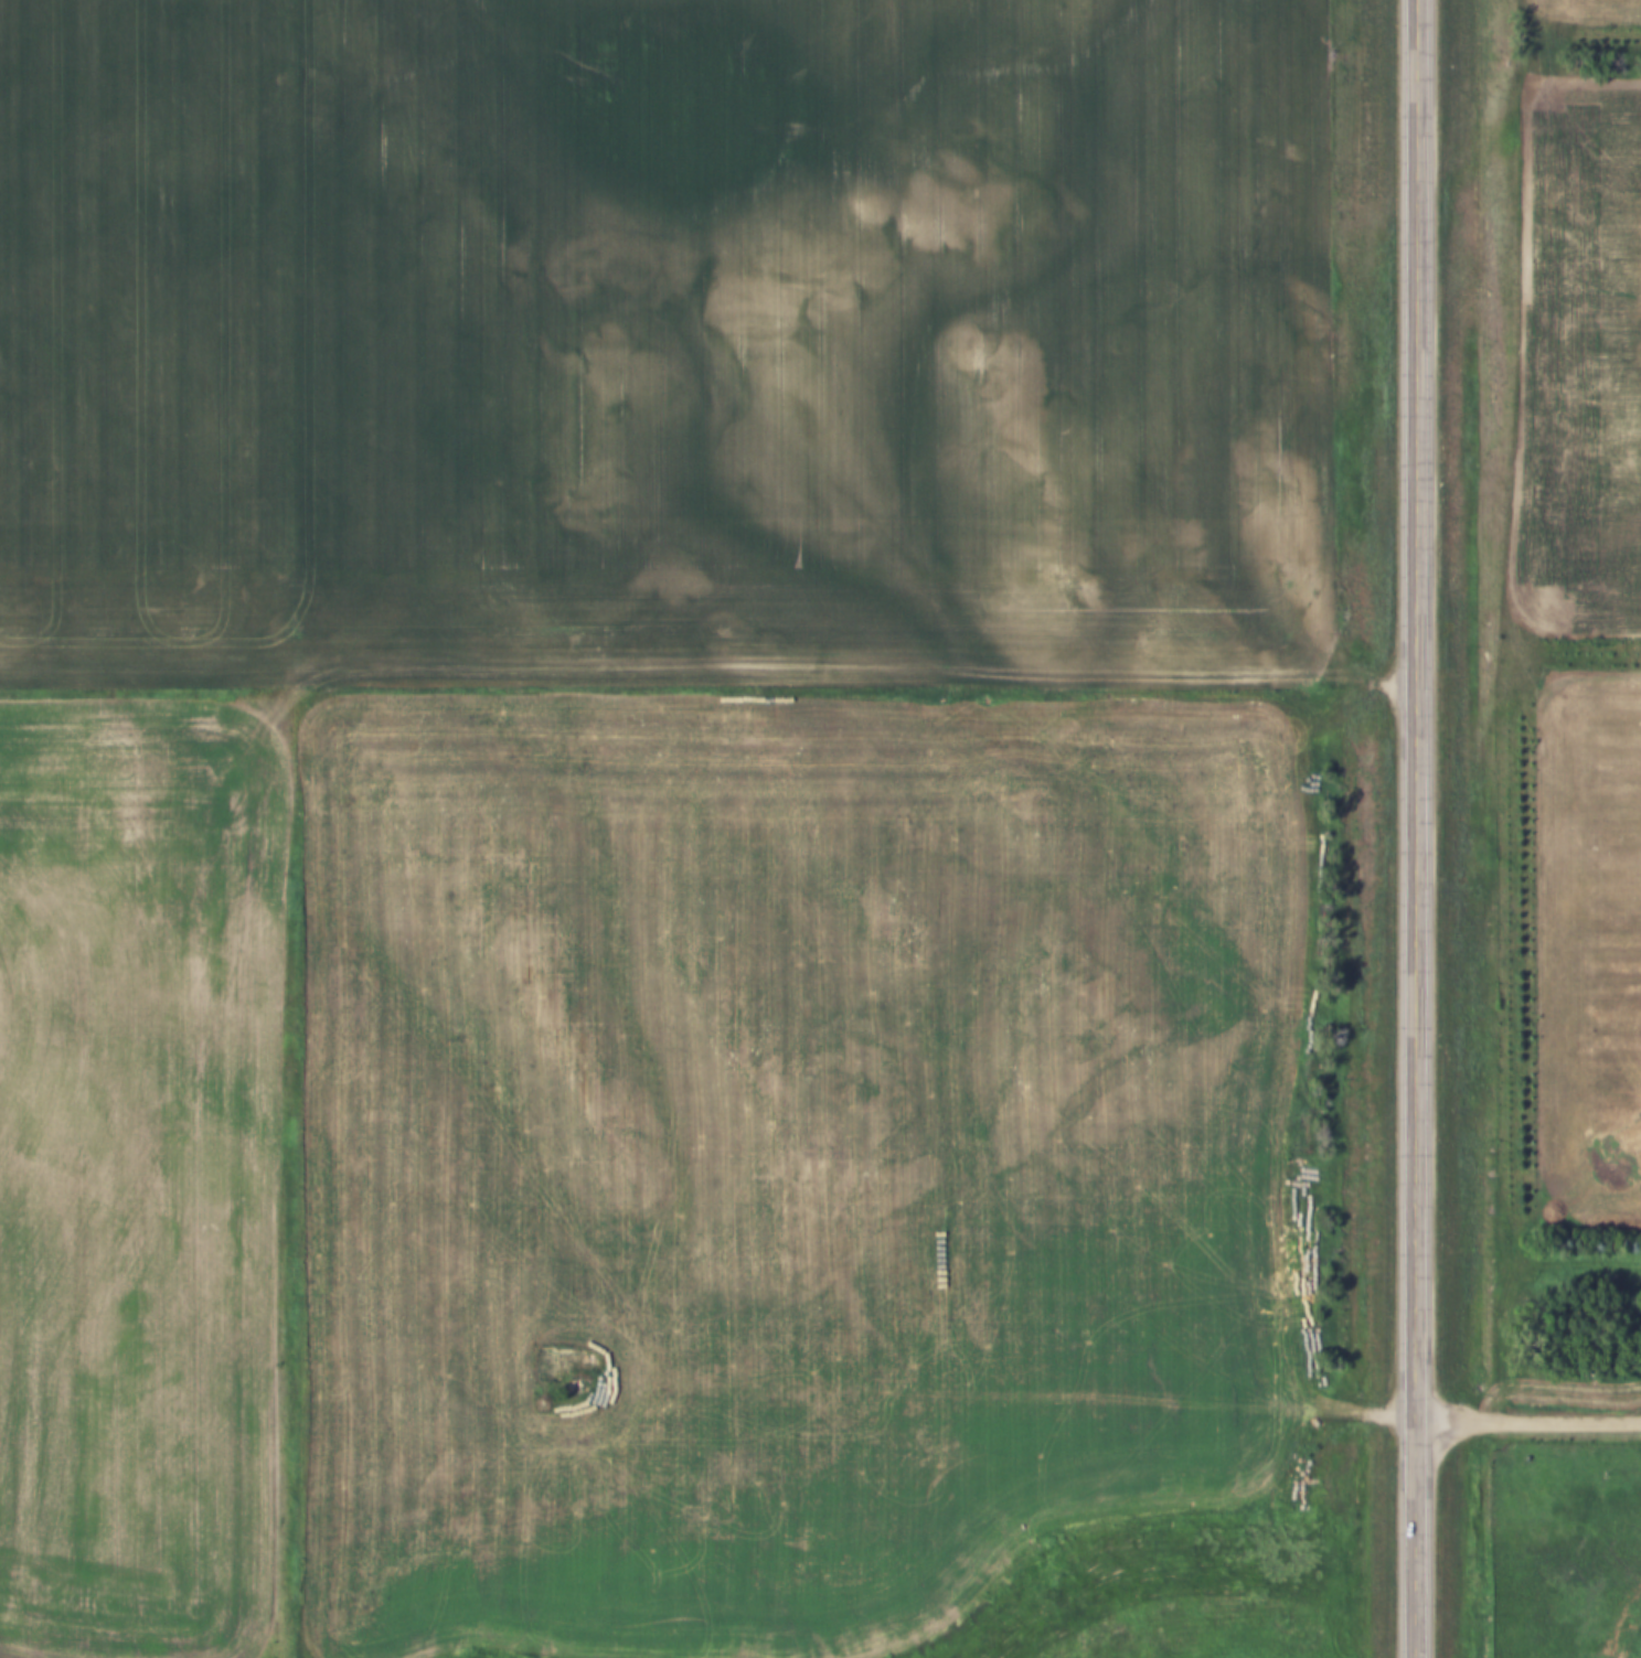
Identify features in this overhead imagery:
road: (1416, 828)
road: (1527, 1418)

